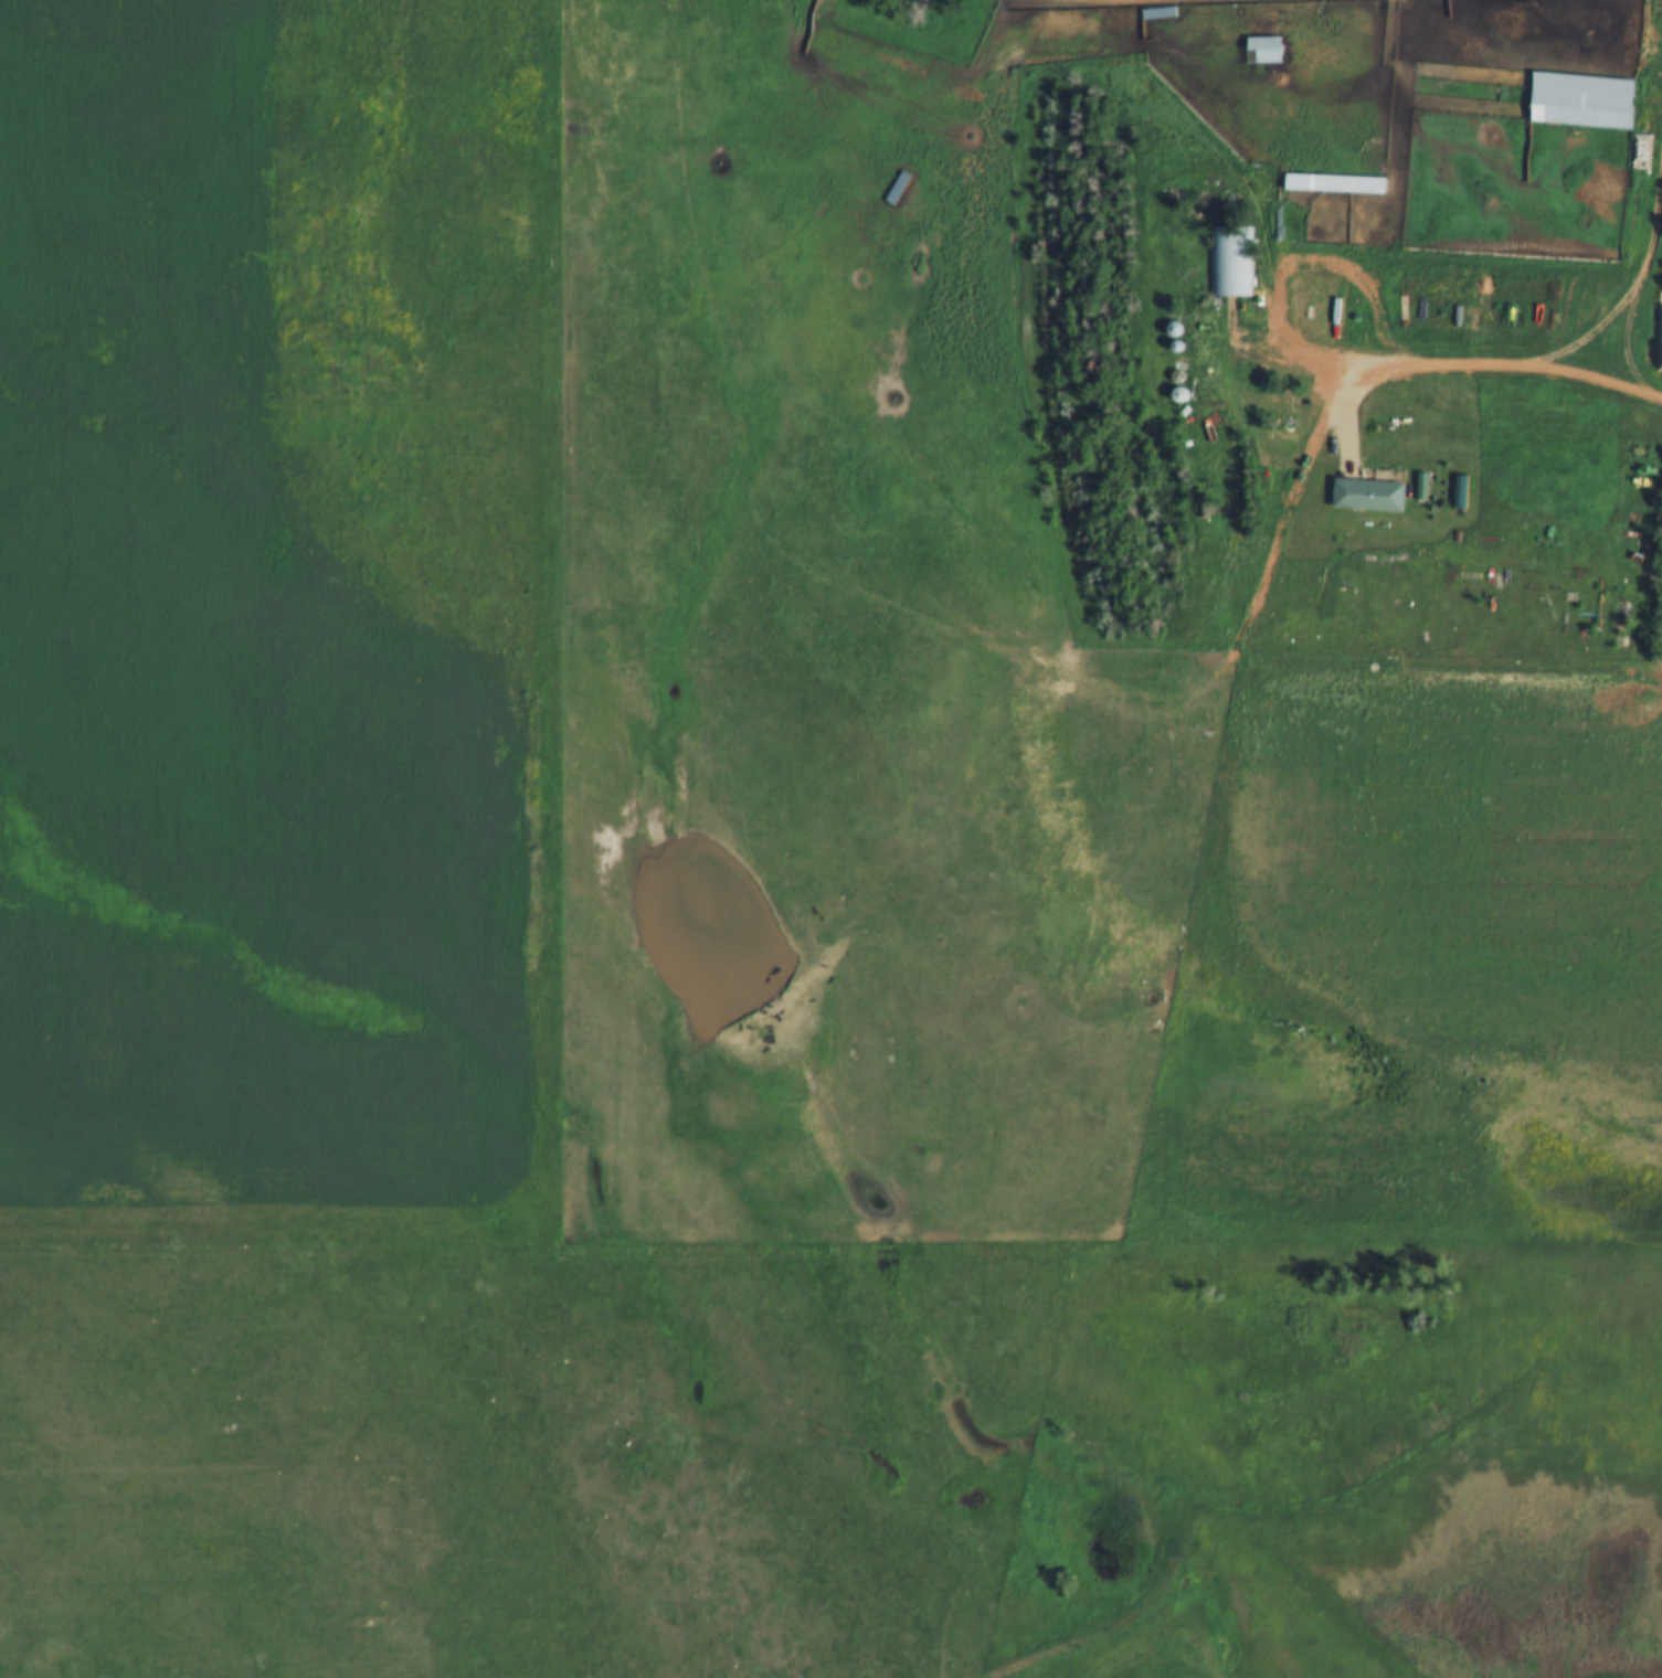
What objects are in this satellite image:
building: (1259, 47)
building: (1577, 97)
road: (1226, 156)
building: (1328, 181)
building: (1230, 259)
road: (1273, 290)
road: (1582, 378)
building: (1365, 492)
road: (1278, 546)

